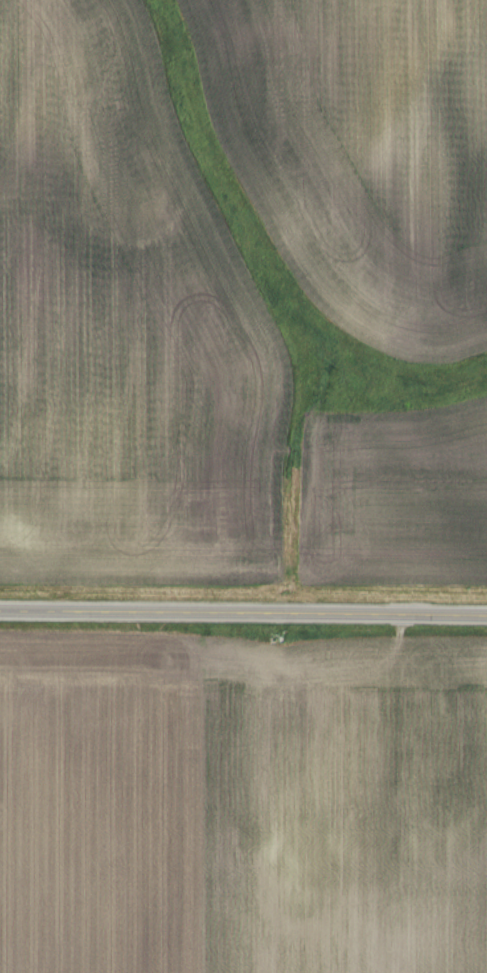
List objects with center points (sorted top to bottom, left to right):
road: (243, 611)

